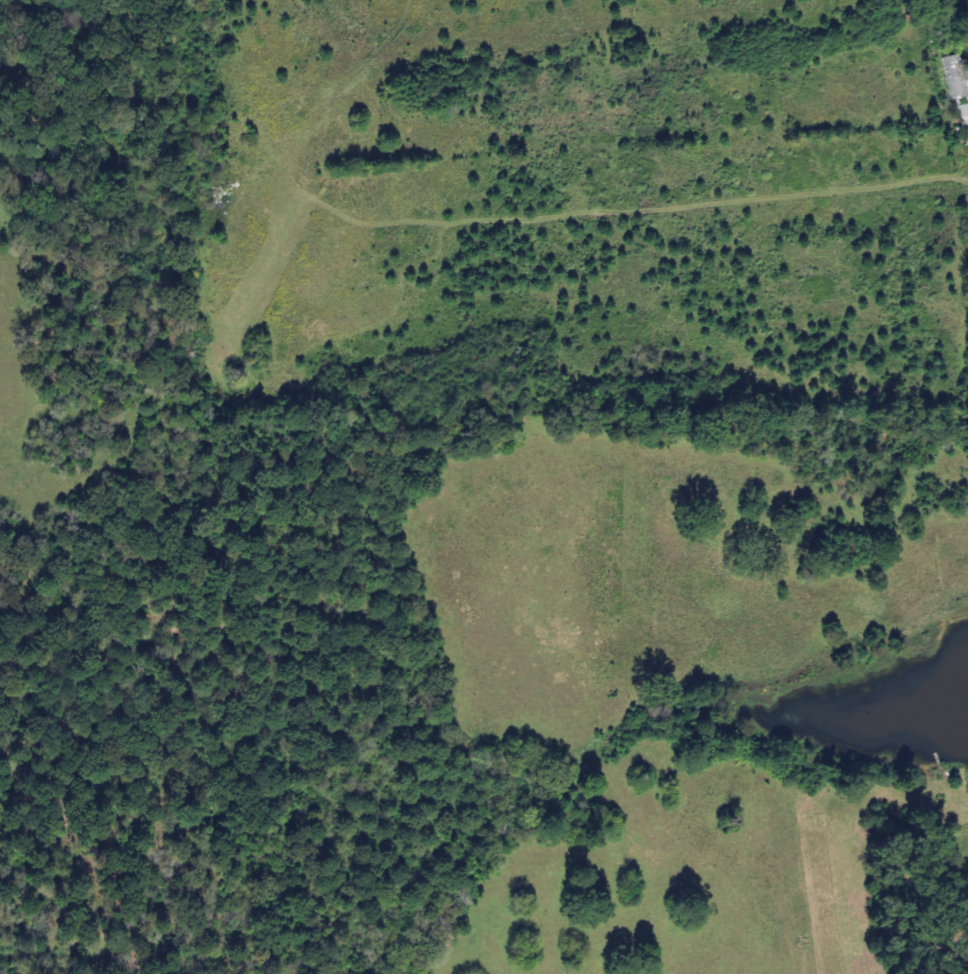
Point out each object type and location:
building: (955, 77)
building: (963, 117)
building: (965, 139)
road: (794, 339)
road: (810, 465)

